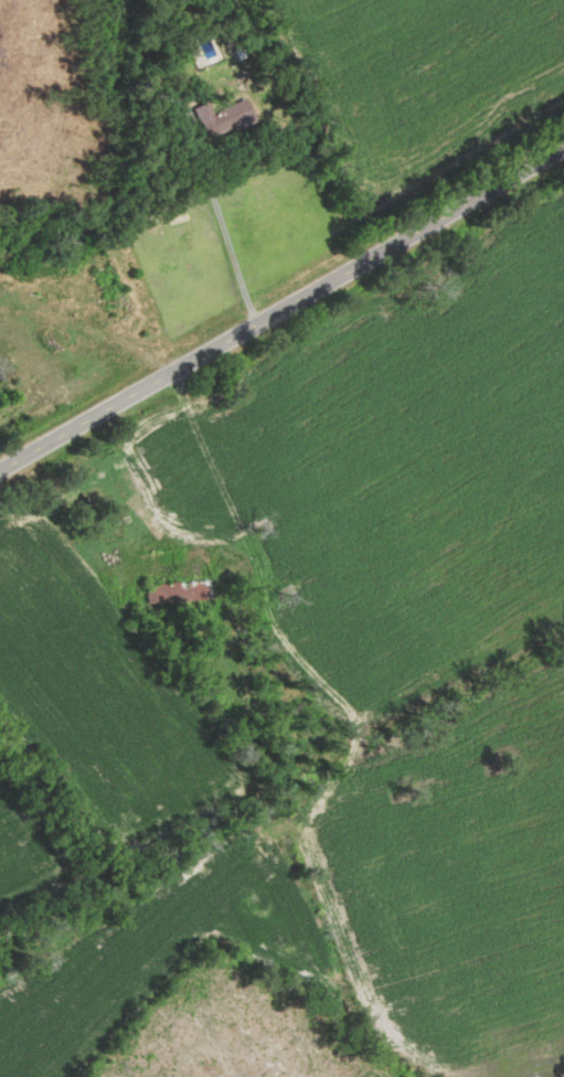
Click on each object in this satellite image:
road: (281, 309)
building: (168, 593)

